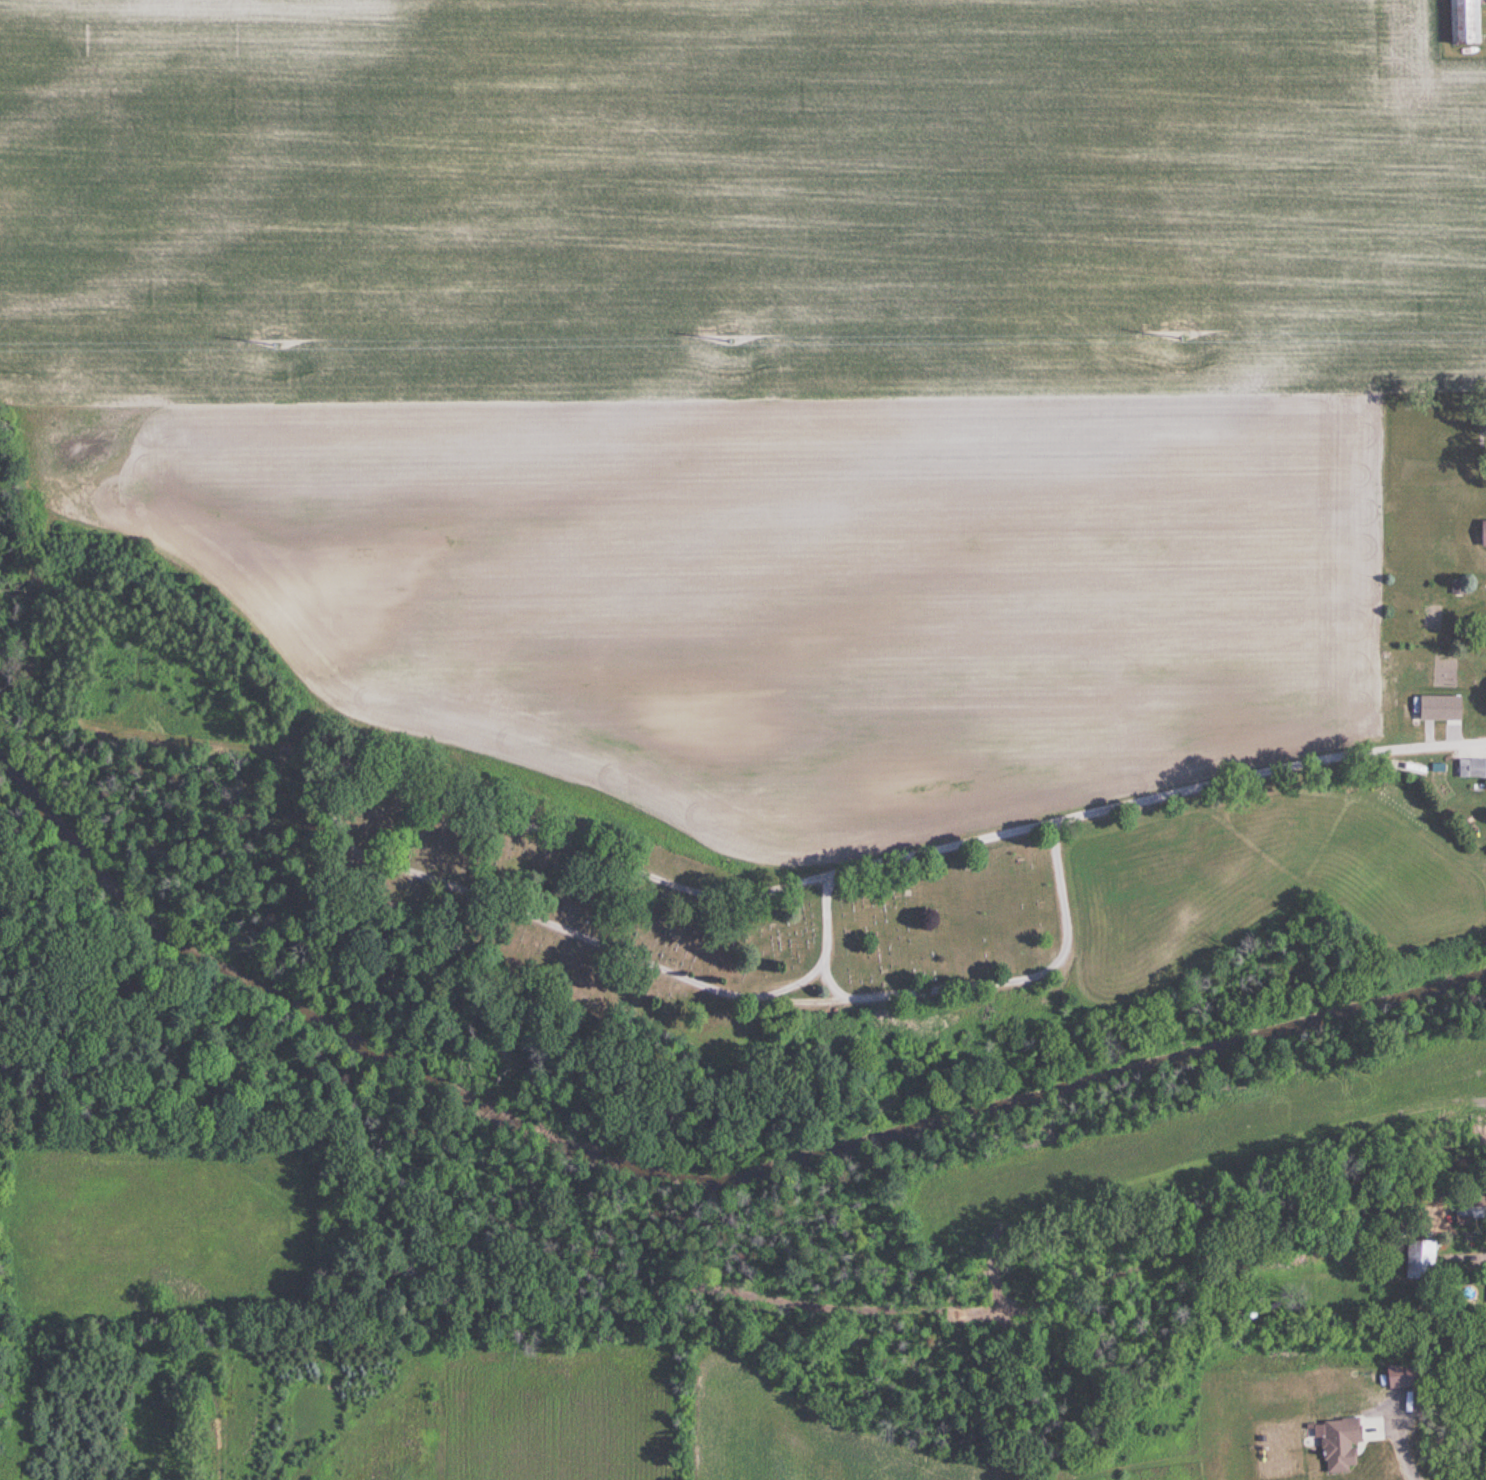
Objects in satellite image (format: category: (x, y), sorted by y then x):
building: (1463, 21)
power tower: (1182, 342)
power tower: (731, 344)
power tower: (278, 348)
building: (1482, 533)
road: (363, 761)
building: (1471, 768)
road: (1265, 769)
road: (738, 892)
park: (768, 909)
road: (683, 978)
road: (848, 997)
building: (1416, 1259)
building: (1338, 1445)
road: (1397, 1451)

